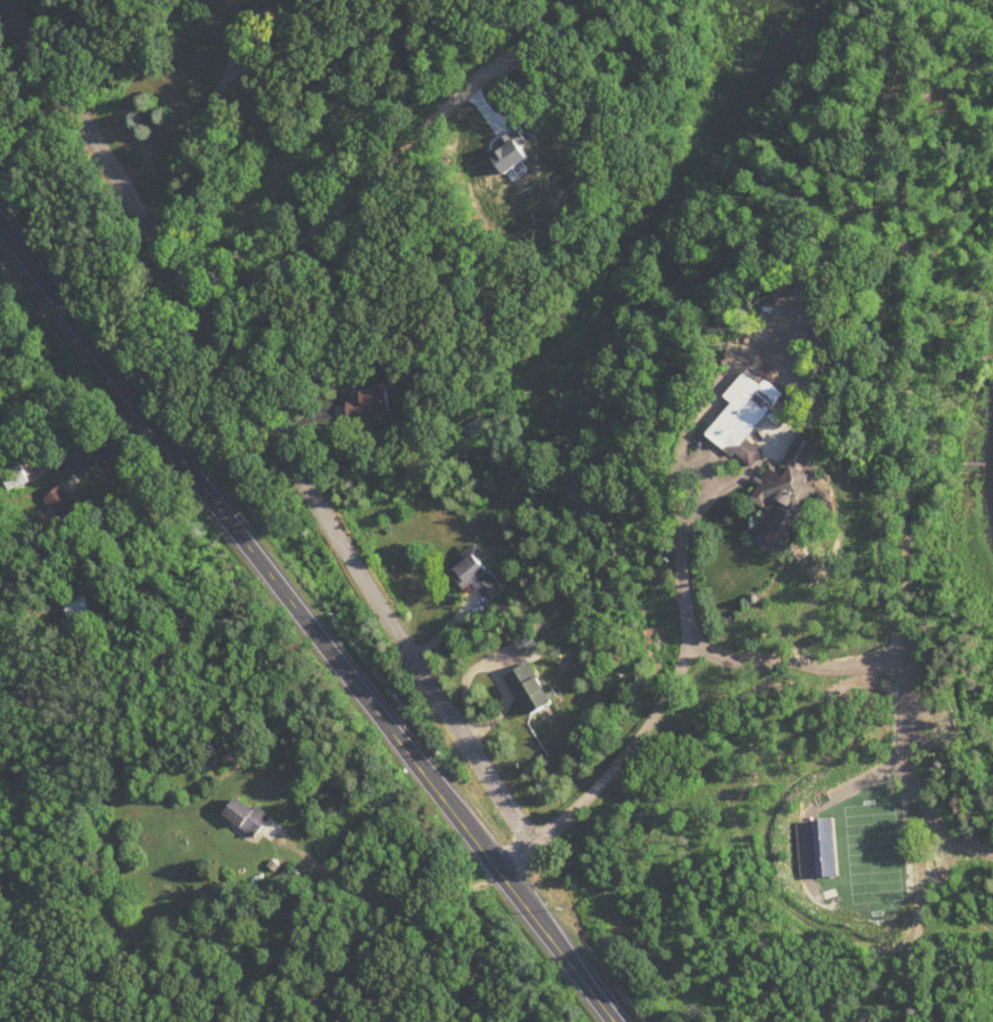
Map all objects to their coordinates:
building: (289, 8)
road: (465, 39)
road: (204, 120)
road: (385, 164)
building: (369, 404)
building: (746, 418)
road: (269, 422)
road: (105, 447)
building: (15, 478)
building: (787, 491)
building: (64, 503)
building: (475, 575)
building: (77, 609)
road: (306, 622)
building: (528, 645)
road: (670, 685)
road: (905, 688)
building: (530, 690)
building: (248, 818)
road: (934, 818)
road: (517, 861)

